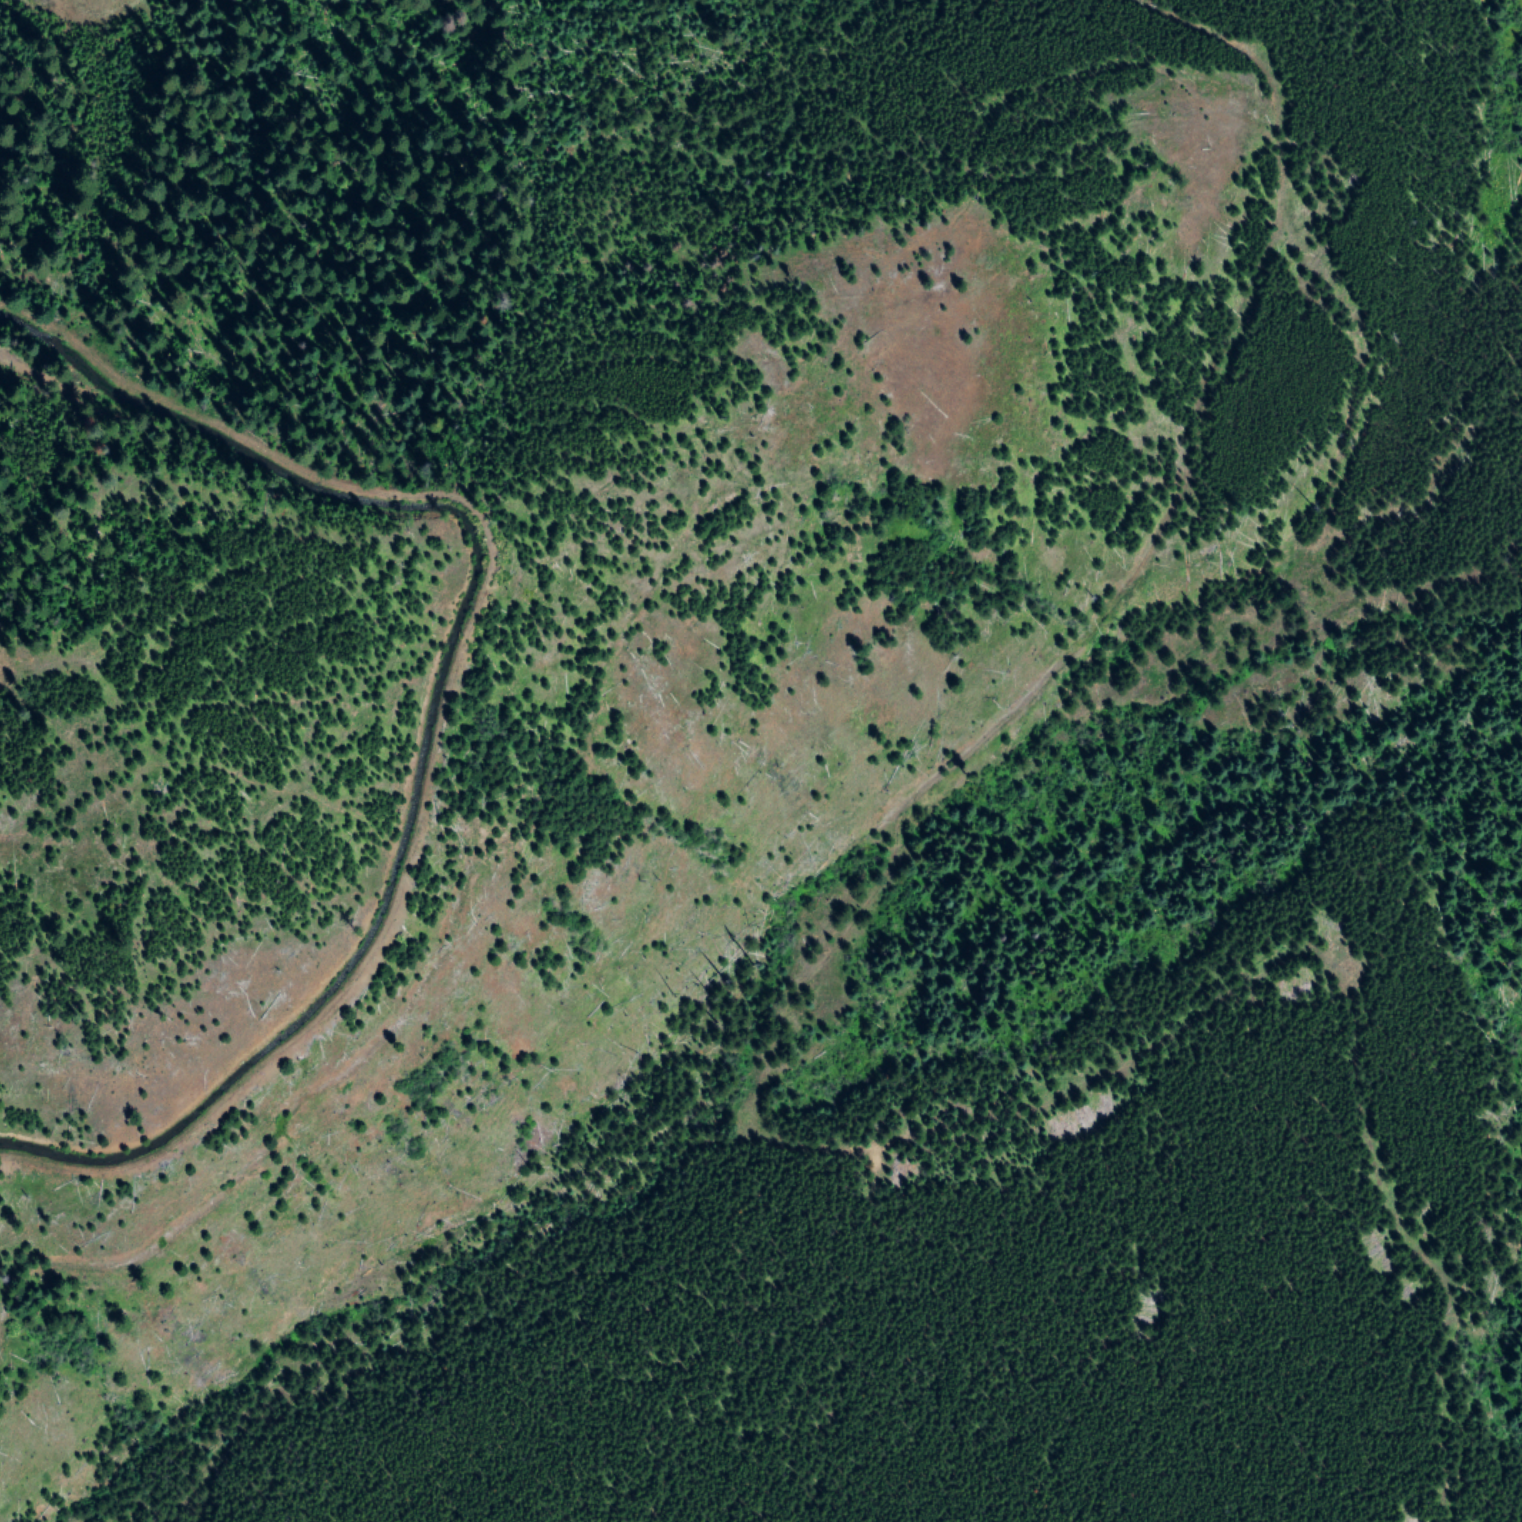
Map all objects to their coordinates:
road: (1314, 311)

